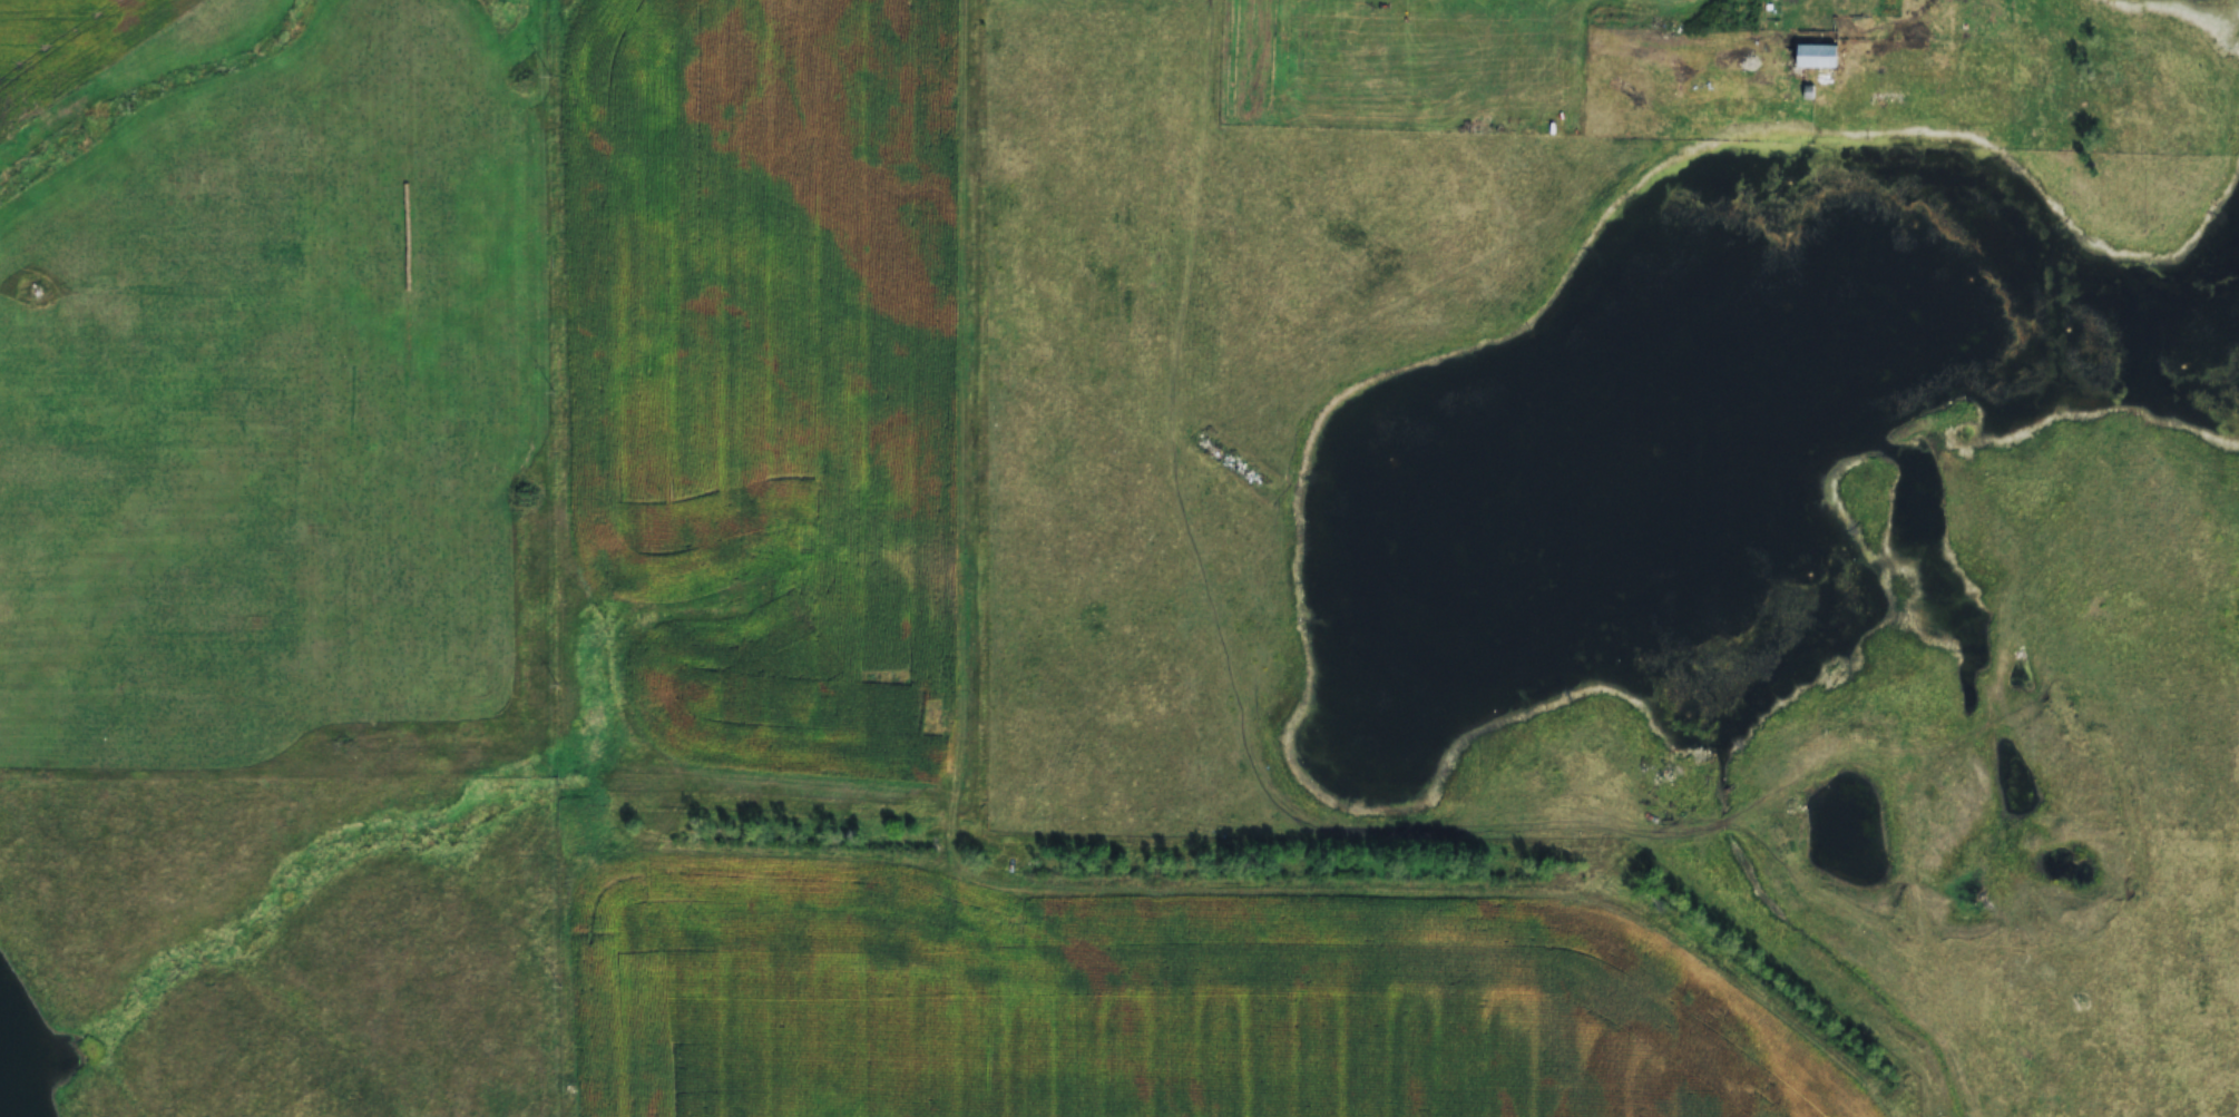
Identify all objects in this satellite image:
building: (1815, 56)

